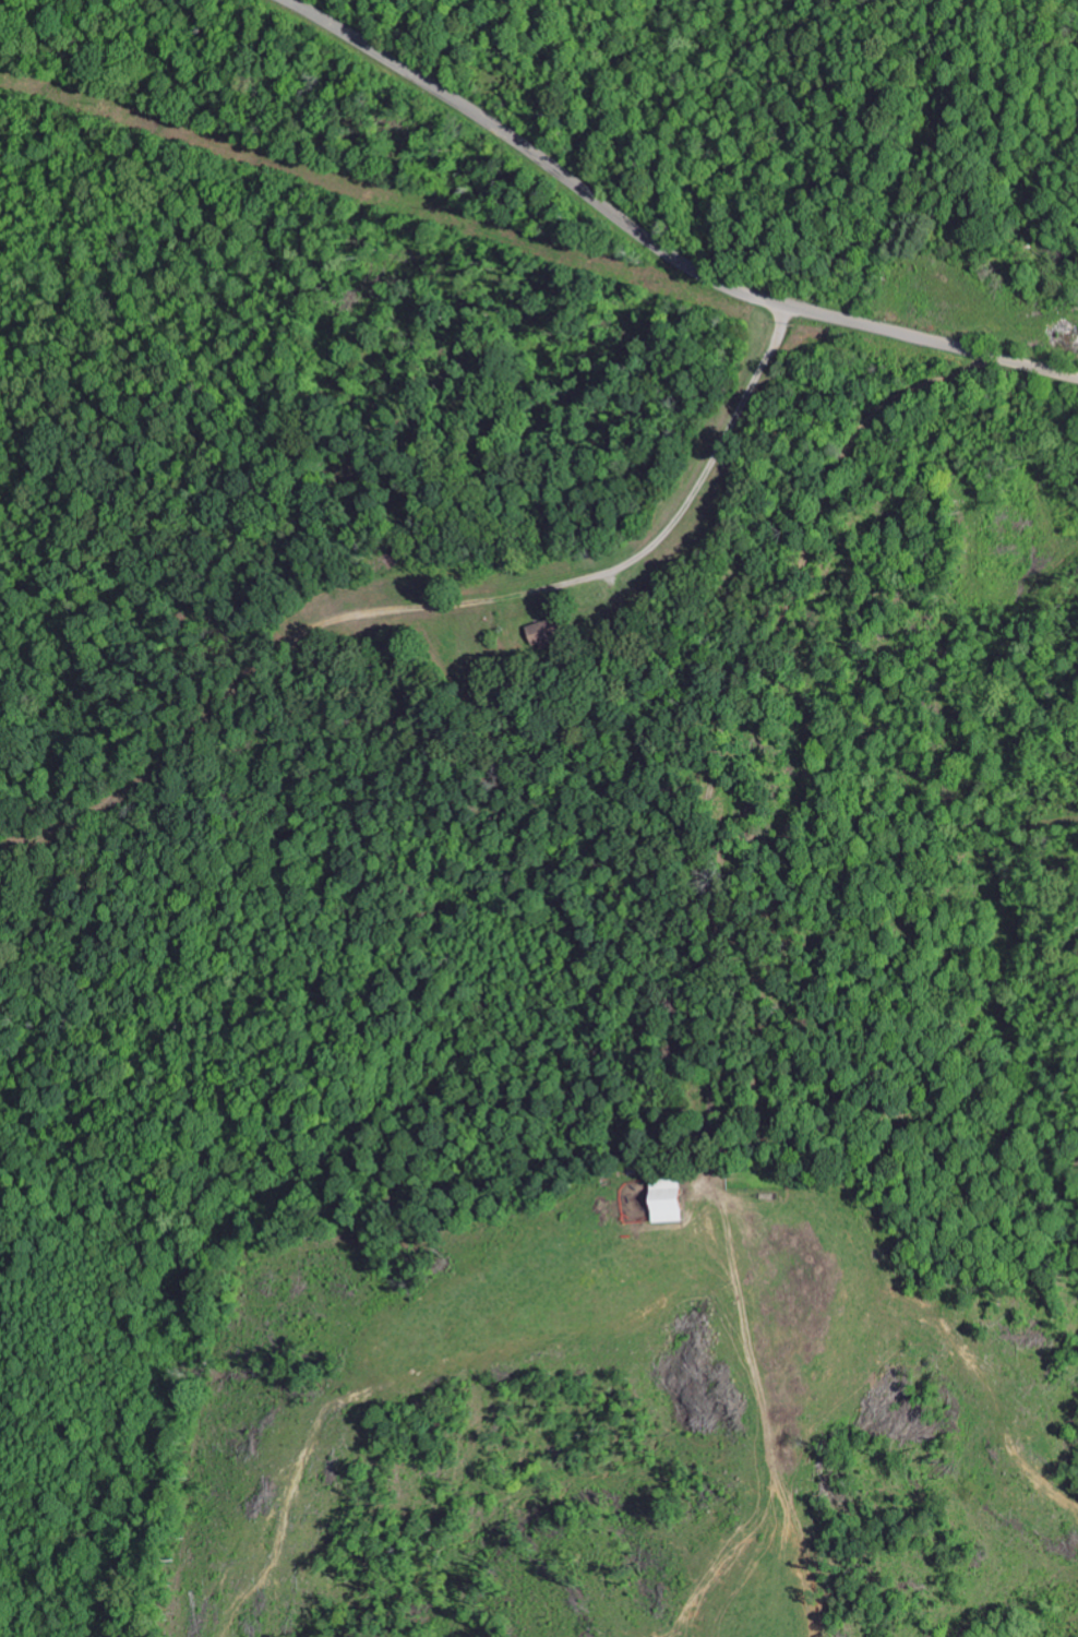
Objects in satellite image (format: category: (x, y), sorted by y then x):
road: (659, 242)
building: (662, 1202)
road: (965, 1210)
road: (31, 1621)

